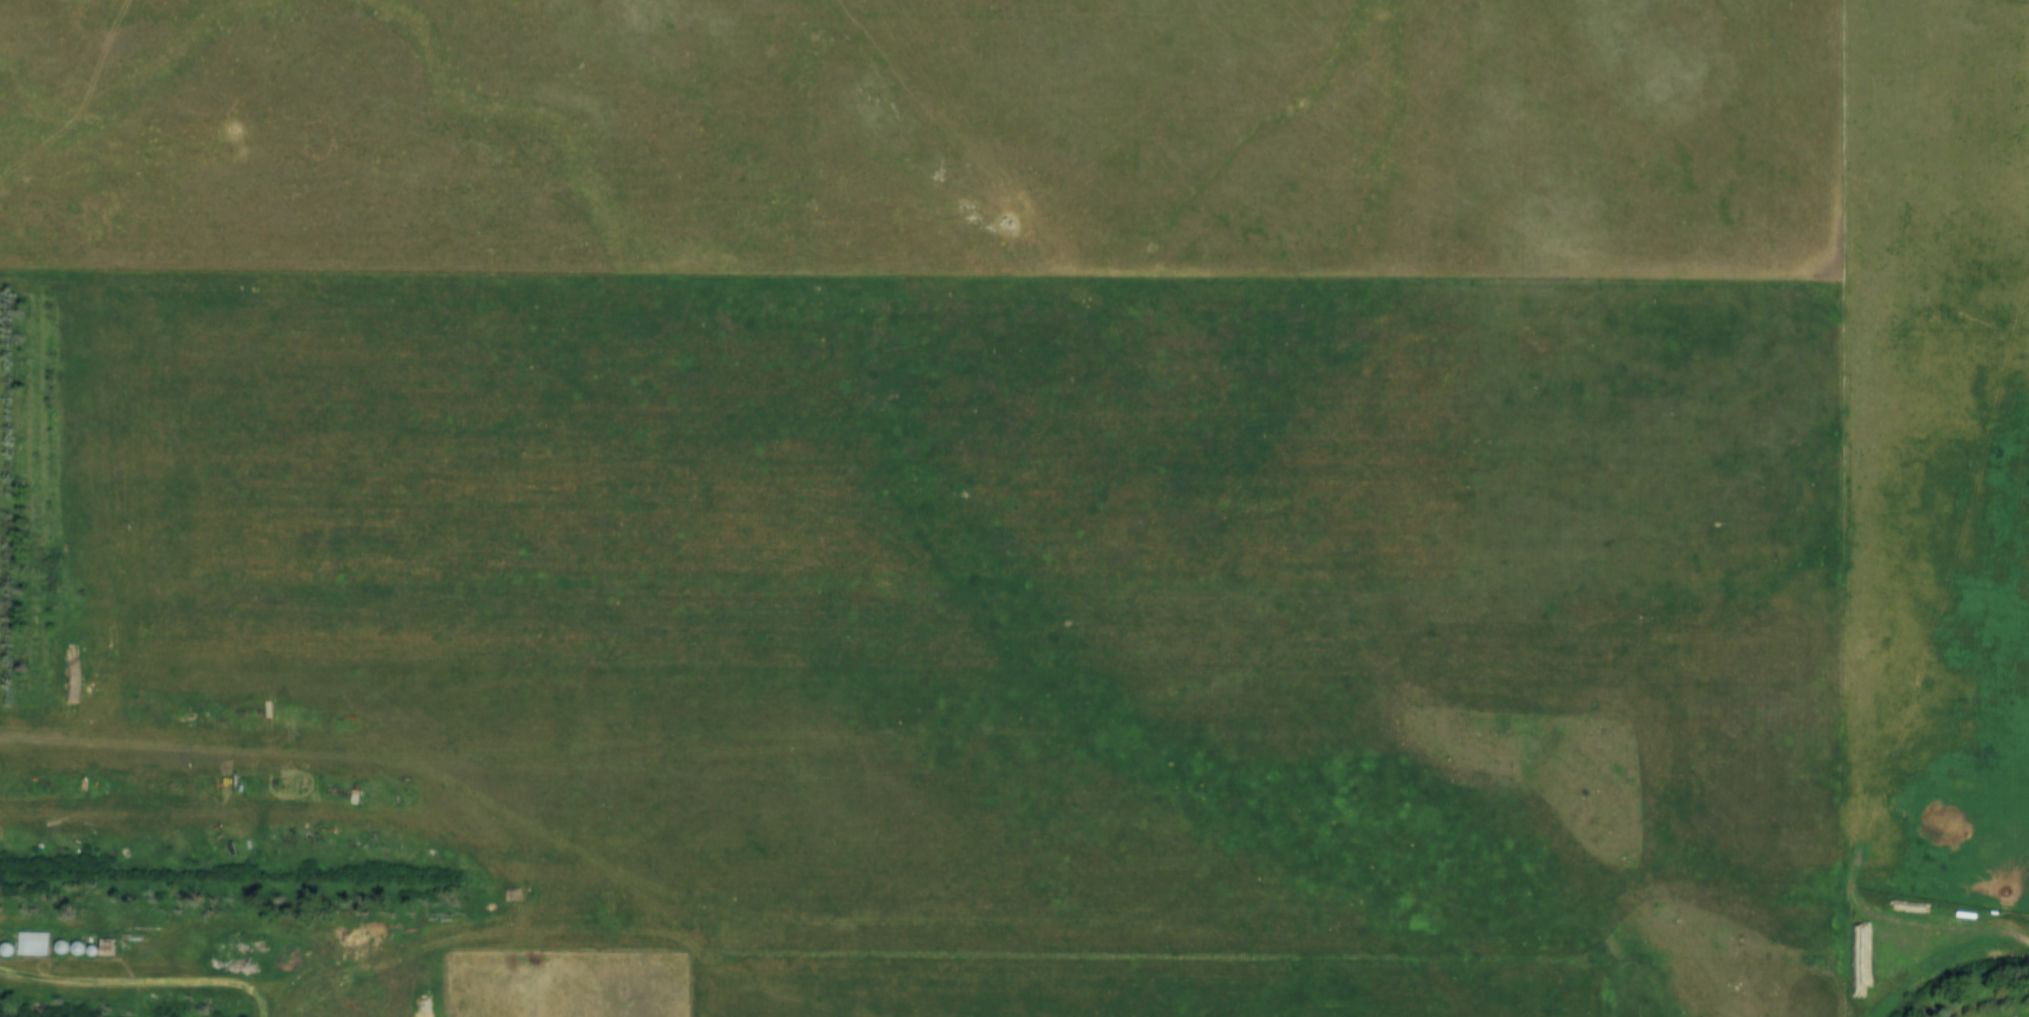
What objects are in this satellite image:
building: (33, 942)
road: (143, 981)

